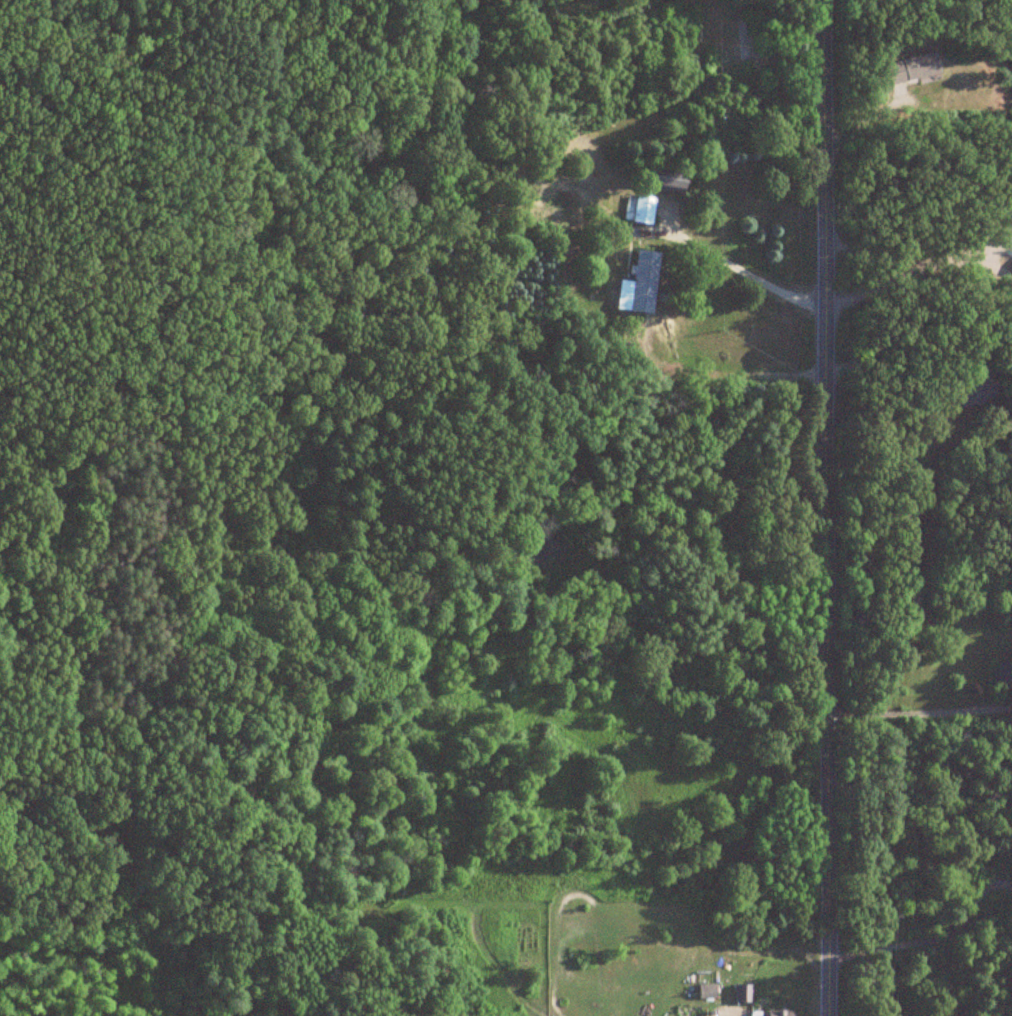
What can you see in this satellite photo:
building: (911, 69)
building: (658, 180)
building: (637, 209)
road: (870, 248)
road: (907, 265)
road: (743, 272)
building: (640, 282)
road: (892, 342)
building: (973, 386)
road: (826, 507)
building: (1002, 676)
road: (917, 712)
road: (932, 938)
building: (704, 992)
building: (740, 995)
building: (778, 1014)

